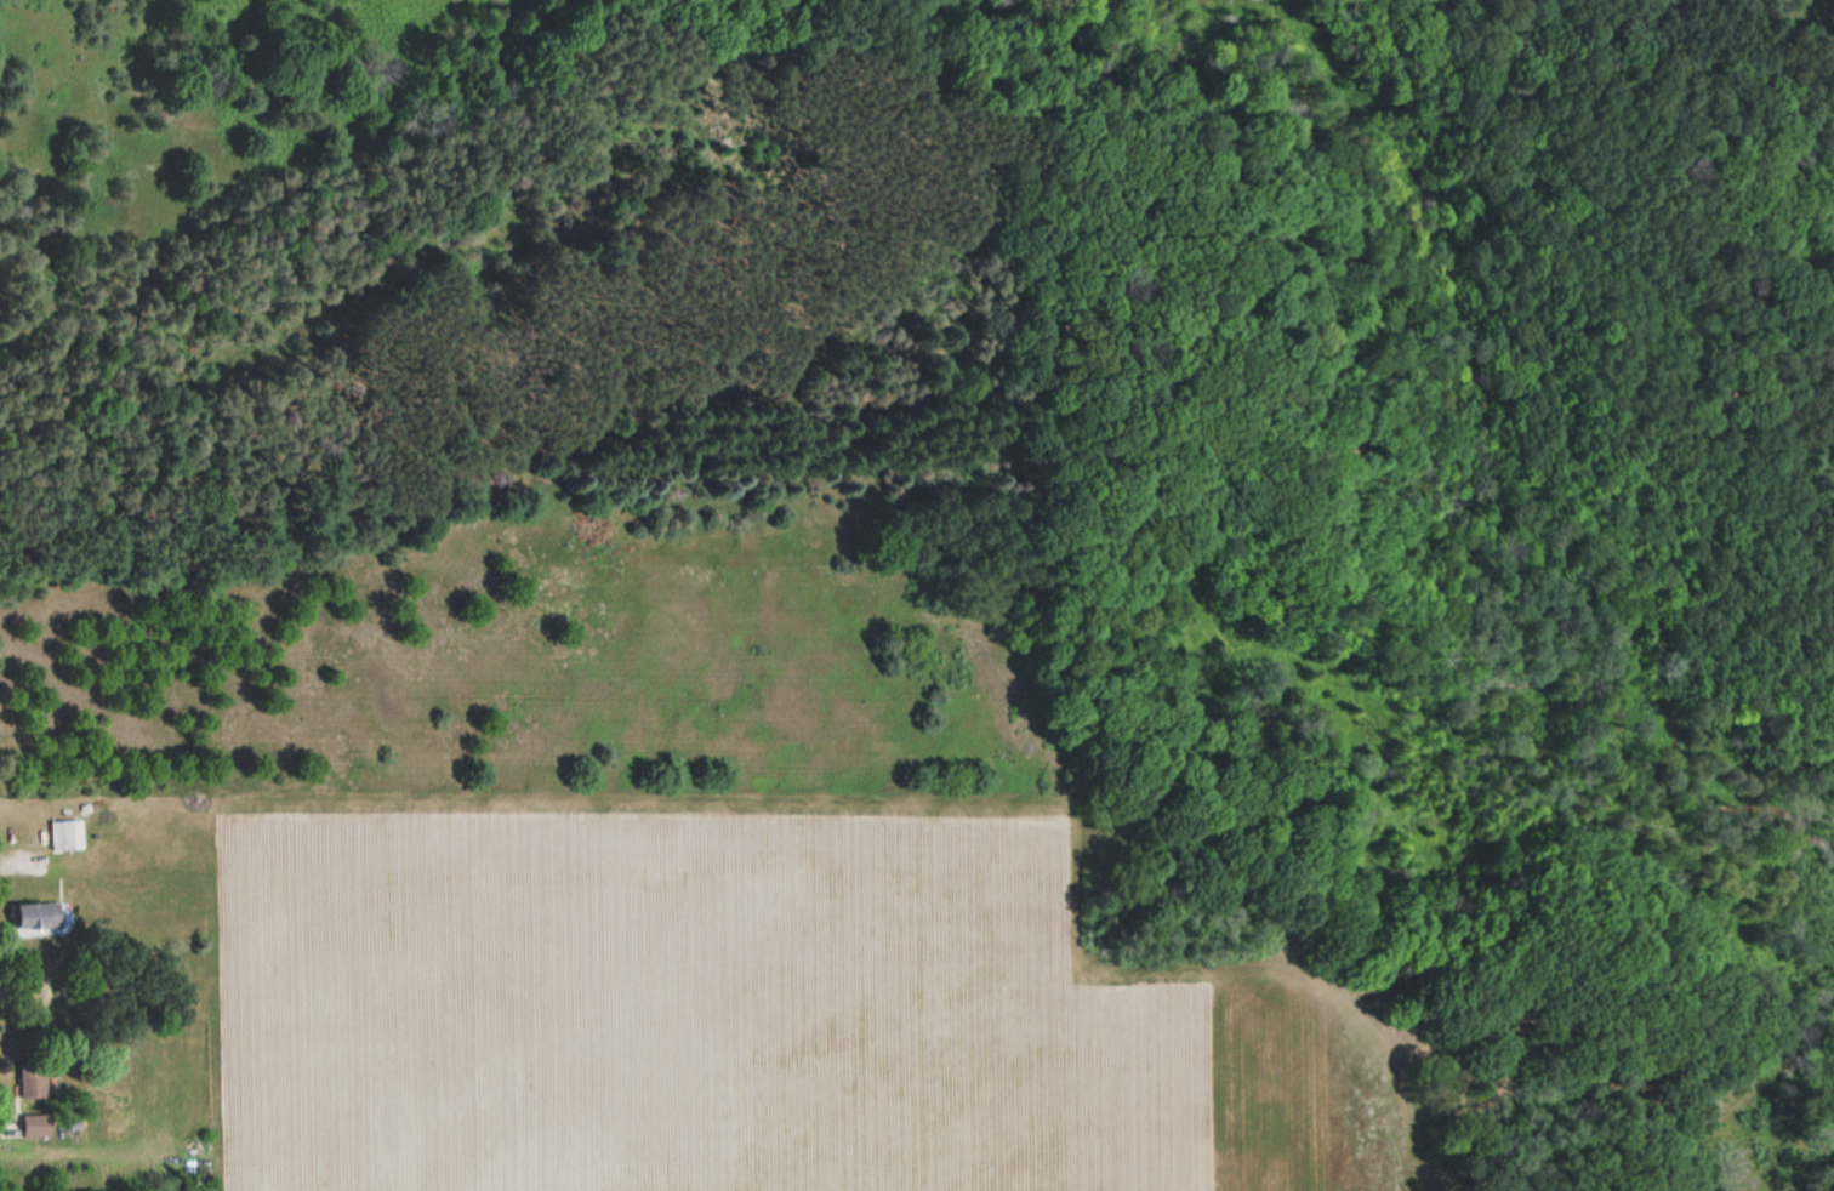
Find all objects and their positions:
building: (65, 834)
building: (38, 918)
building: (32, 1078)
building: (35, 1124)

